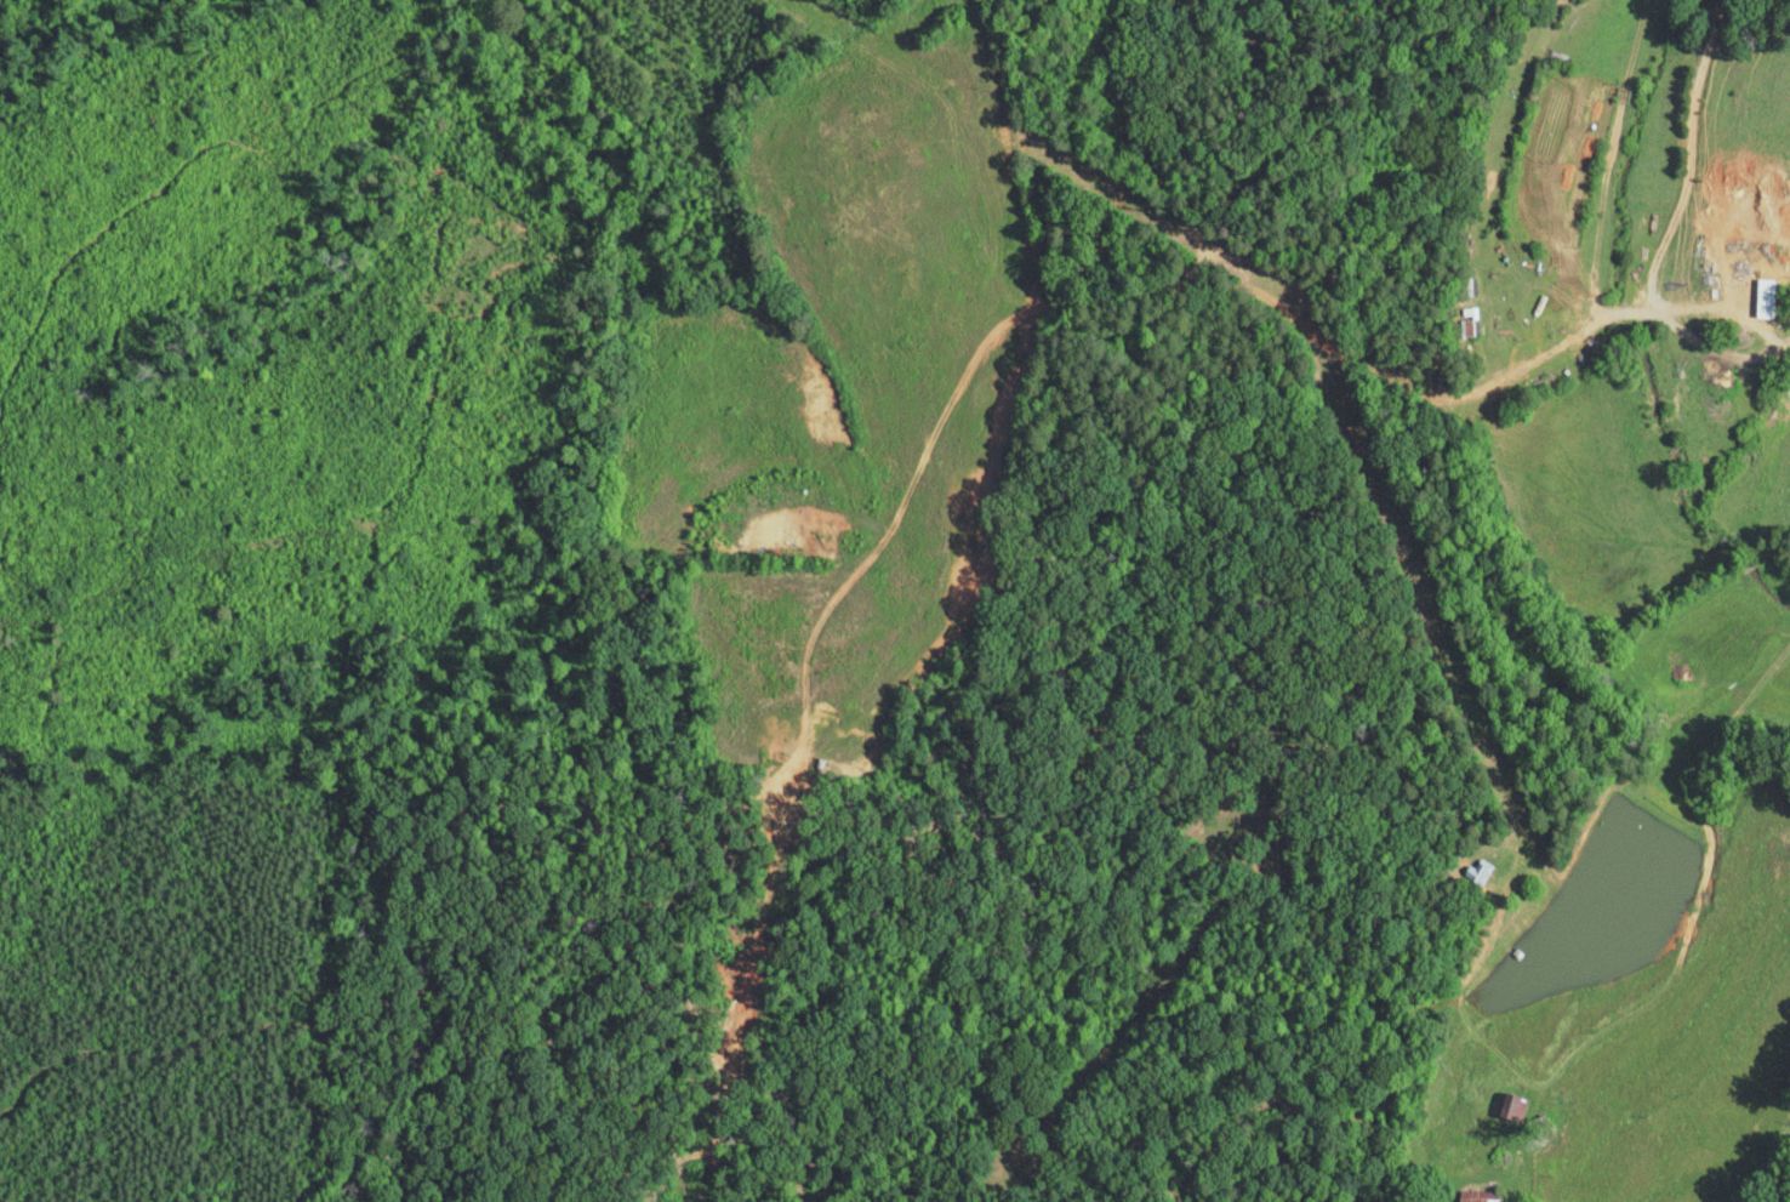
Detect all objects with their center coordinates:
building: (1763, 297)

